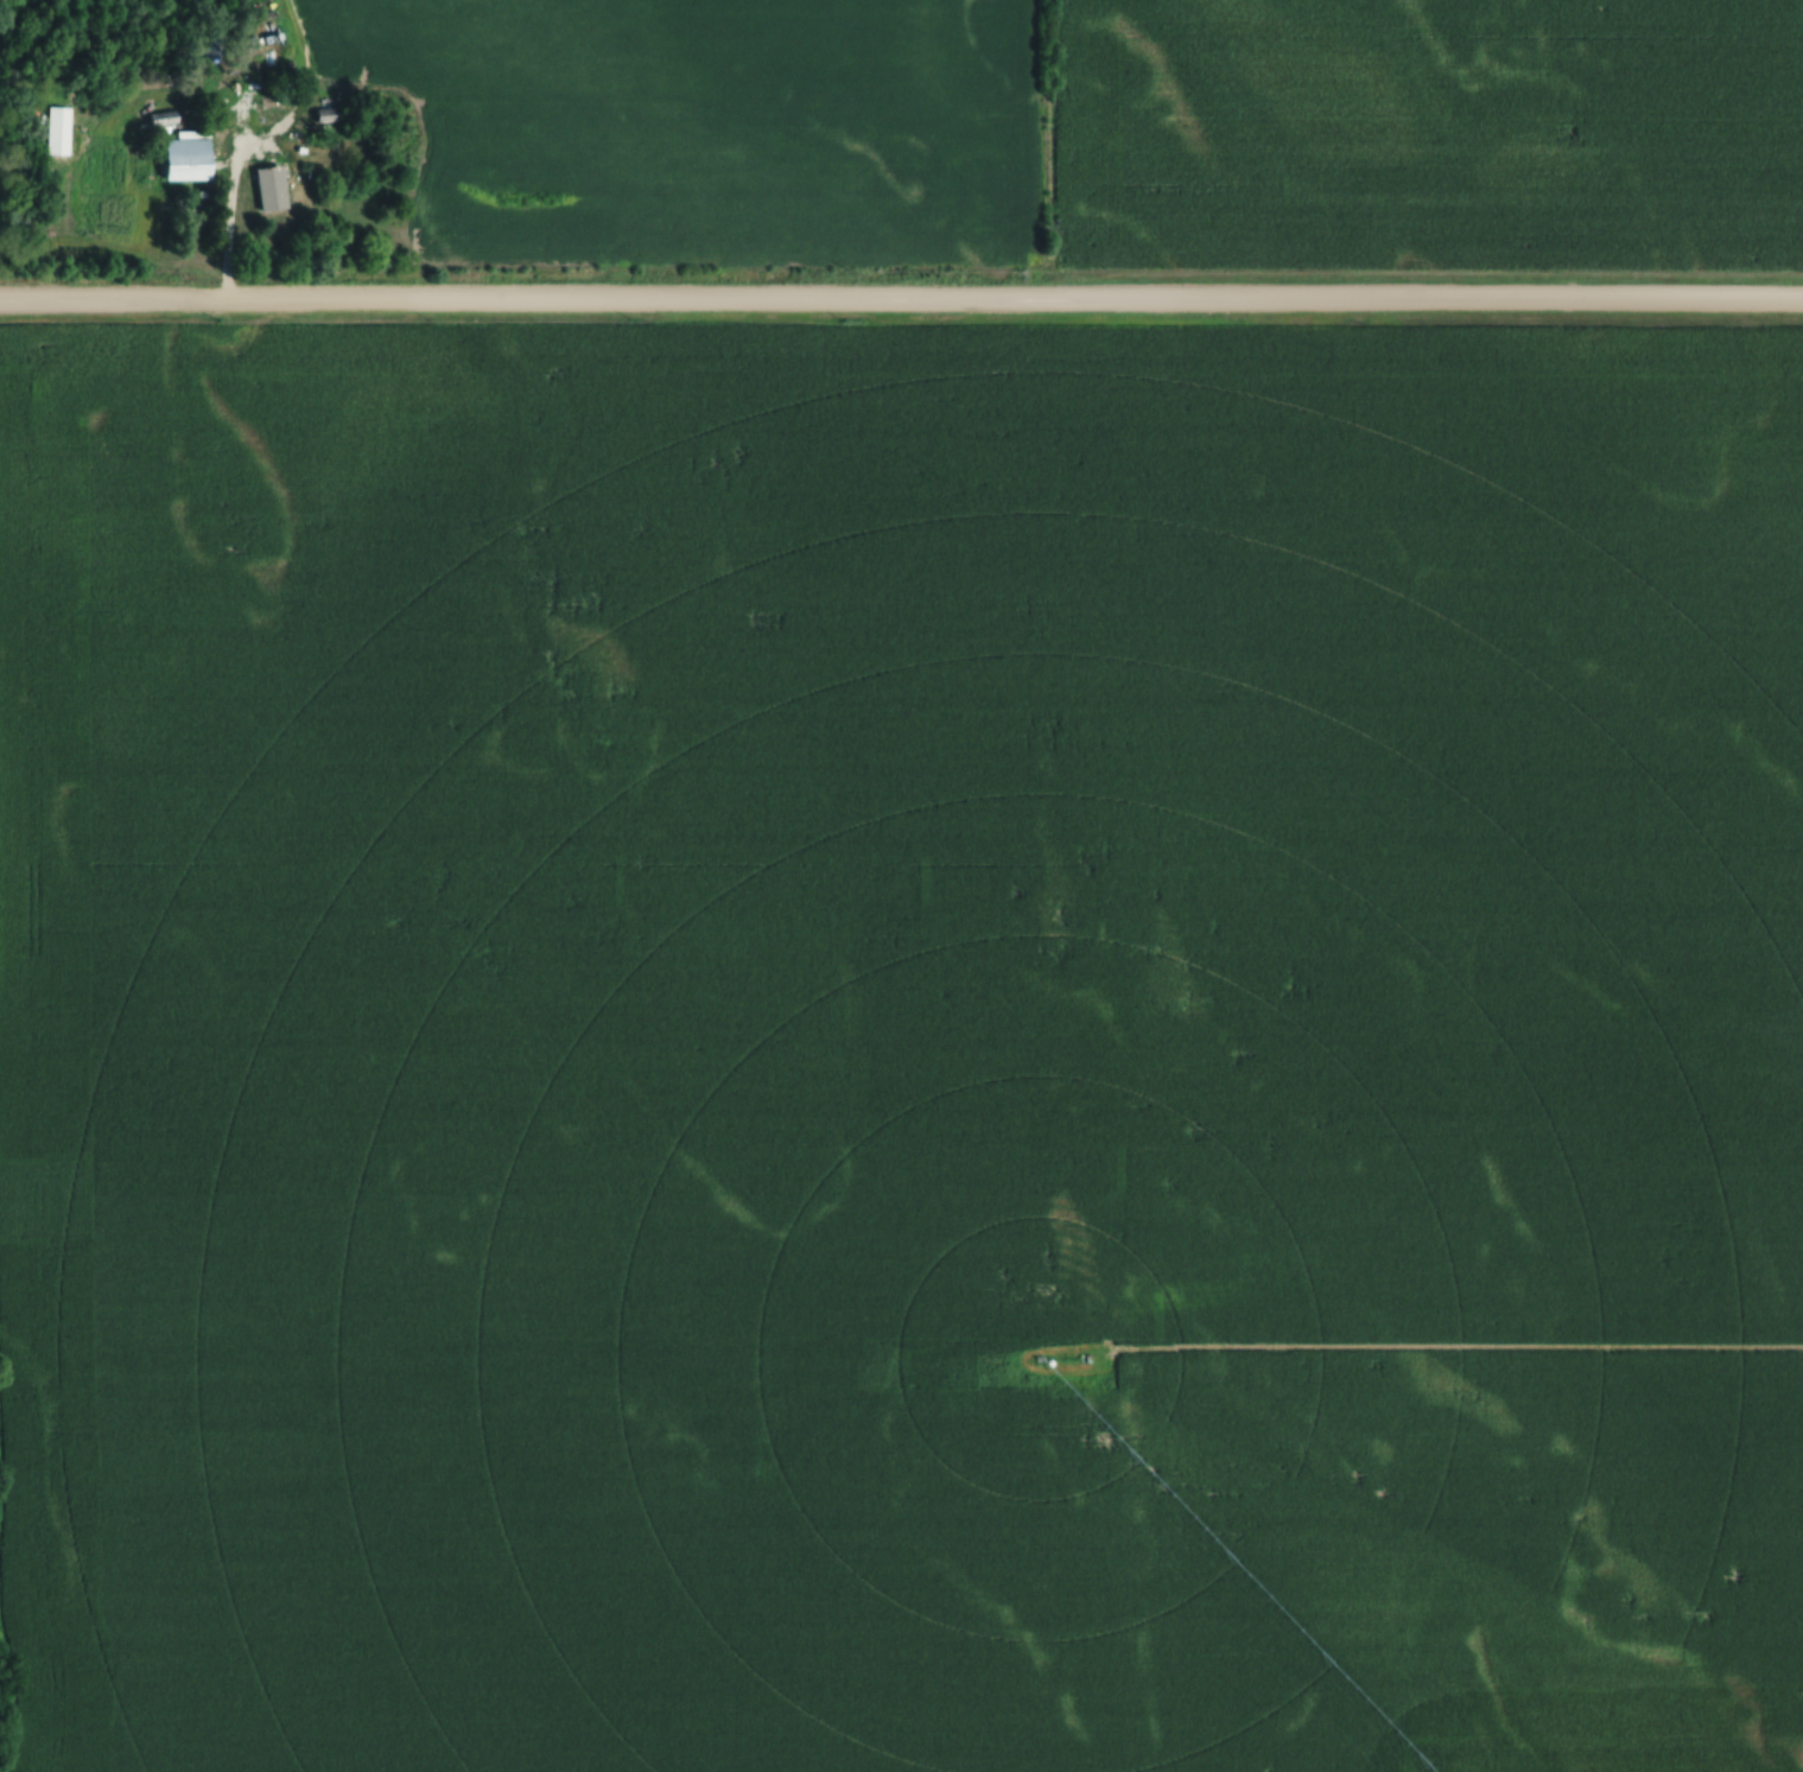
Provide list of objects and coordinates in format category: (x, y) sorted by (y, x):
building: (58, 131)
building: (185, 160)
building: (269, 188)
road: (231, 216)
road: (901, 298)

